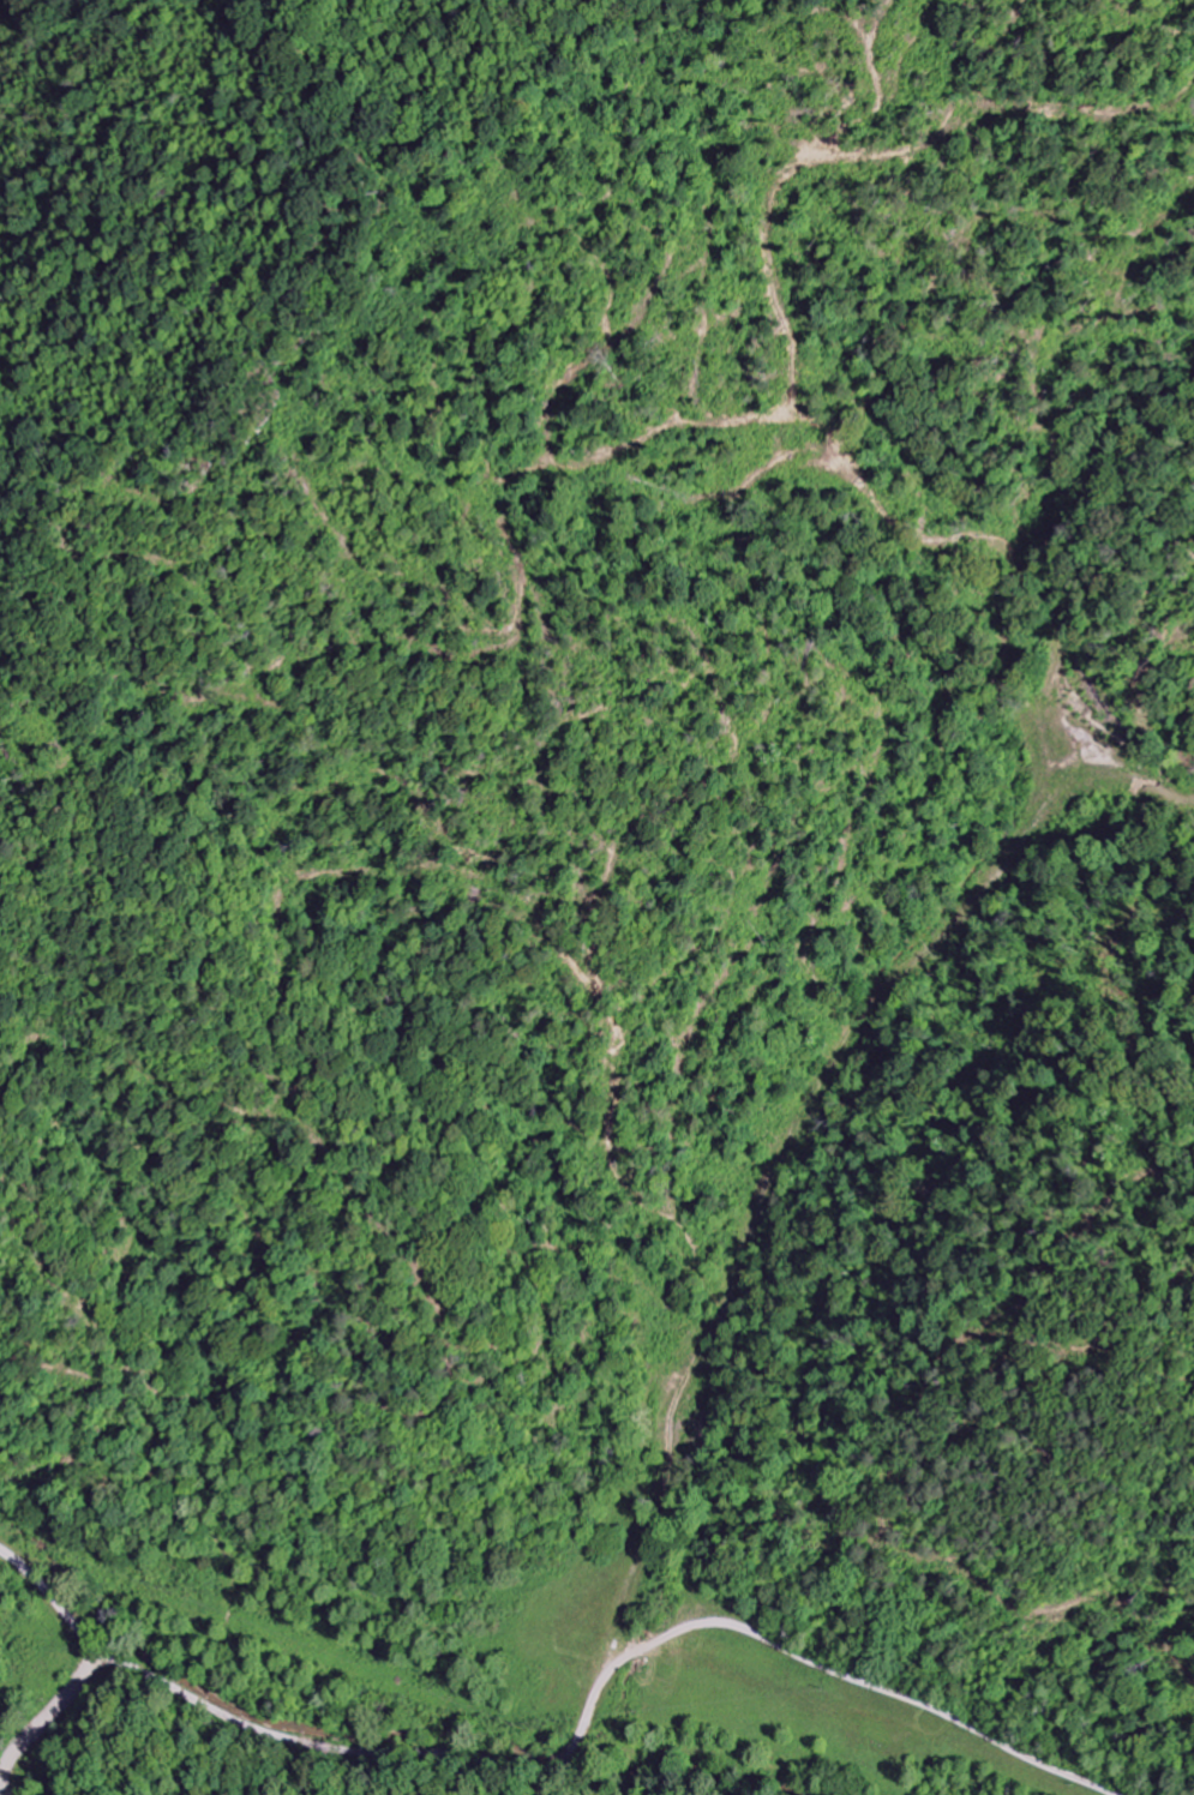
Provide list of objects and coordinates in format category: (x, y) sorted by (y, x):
road: (539, 1664)
road: (88, 1668)

